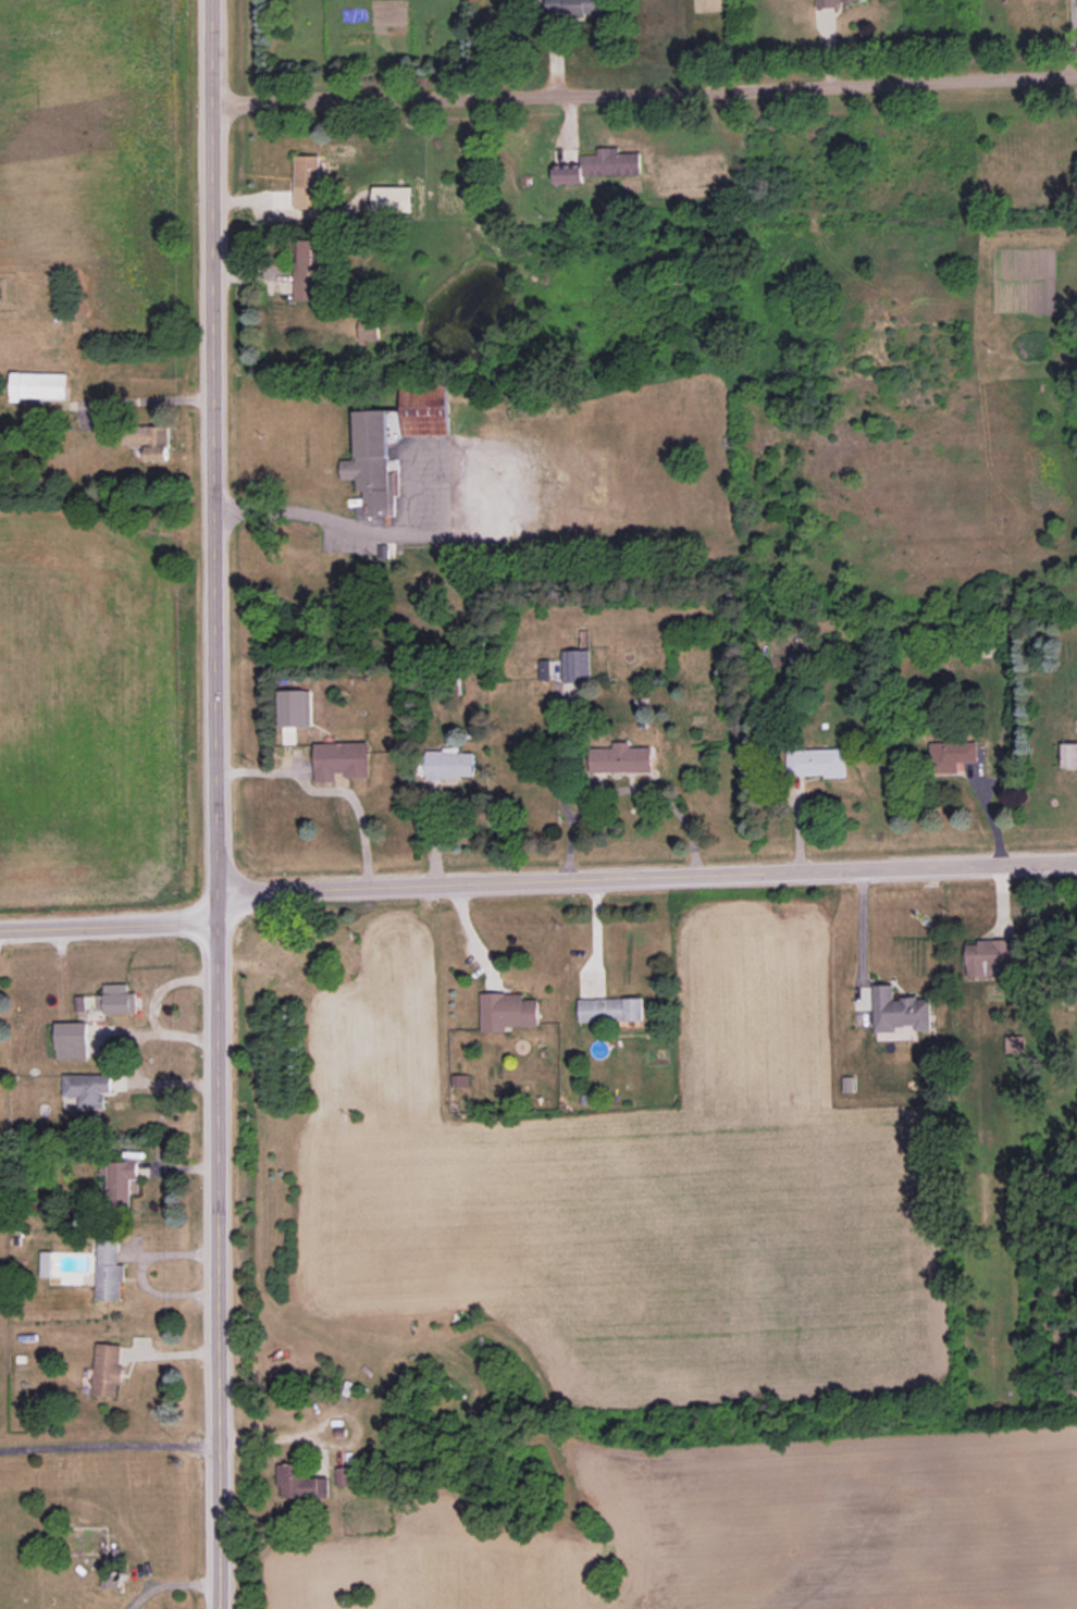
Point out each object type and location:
building: (829, 2)
building: (572, 7)
road: (644, 91)
building: (598, 165)
building: (307, 171)
building: (393, 198)
building: (309, 270)
building: (369, 329)
building: (38, 385)
road: (138, 401)
building: (424, 407)
building: (152, 442)
building: (372, 465)
road: (345, 528)
building: (575, 665)
building: (294, 707)
building: (951, 755)
building: (1068, 755)
building: (620, 758)
building: (341, 760)
building: (816, 763)
building: (447, 765)
road: (627, 788)
road: (326, 791)
road: (215, 804)
road: (535, 886)
road: (858, 935)
building: (988, 957)
building: (115, 999)
building: (610, 1010)
building: (507, 1011)
building: (900, 1011)
building: (72, 1040)
building: (1014, 1044)
building: (87, 1088)
building: (120, 1183)
building: (109, 1272)
building: (108, 1369)
road: (109, 1445)
building: (344, 1476)
building: (301, 1485)
road: (170, 1584)

